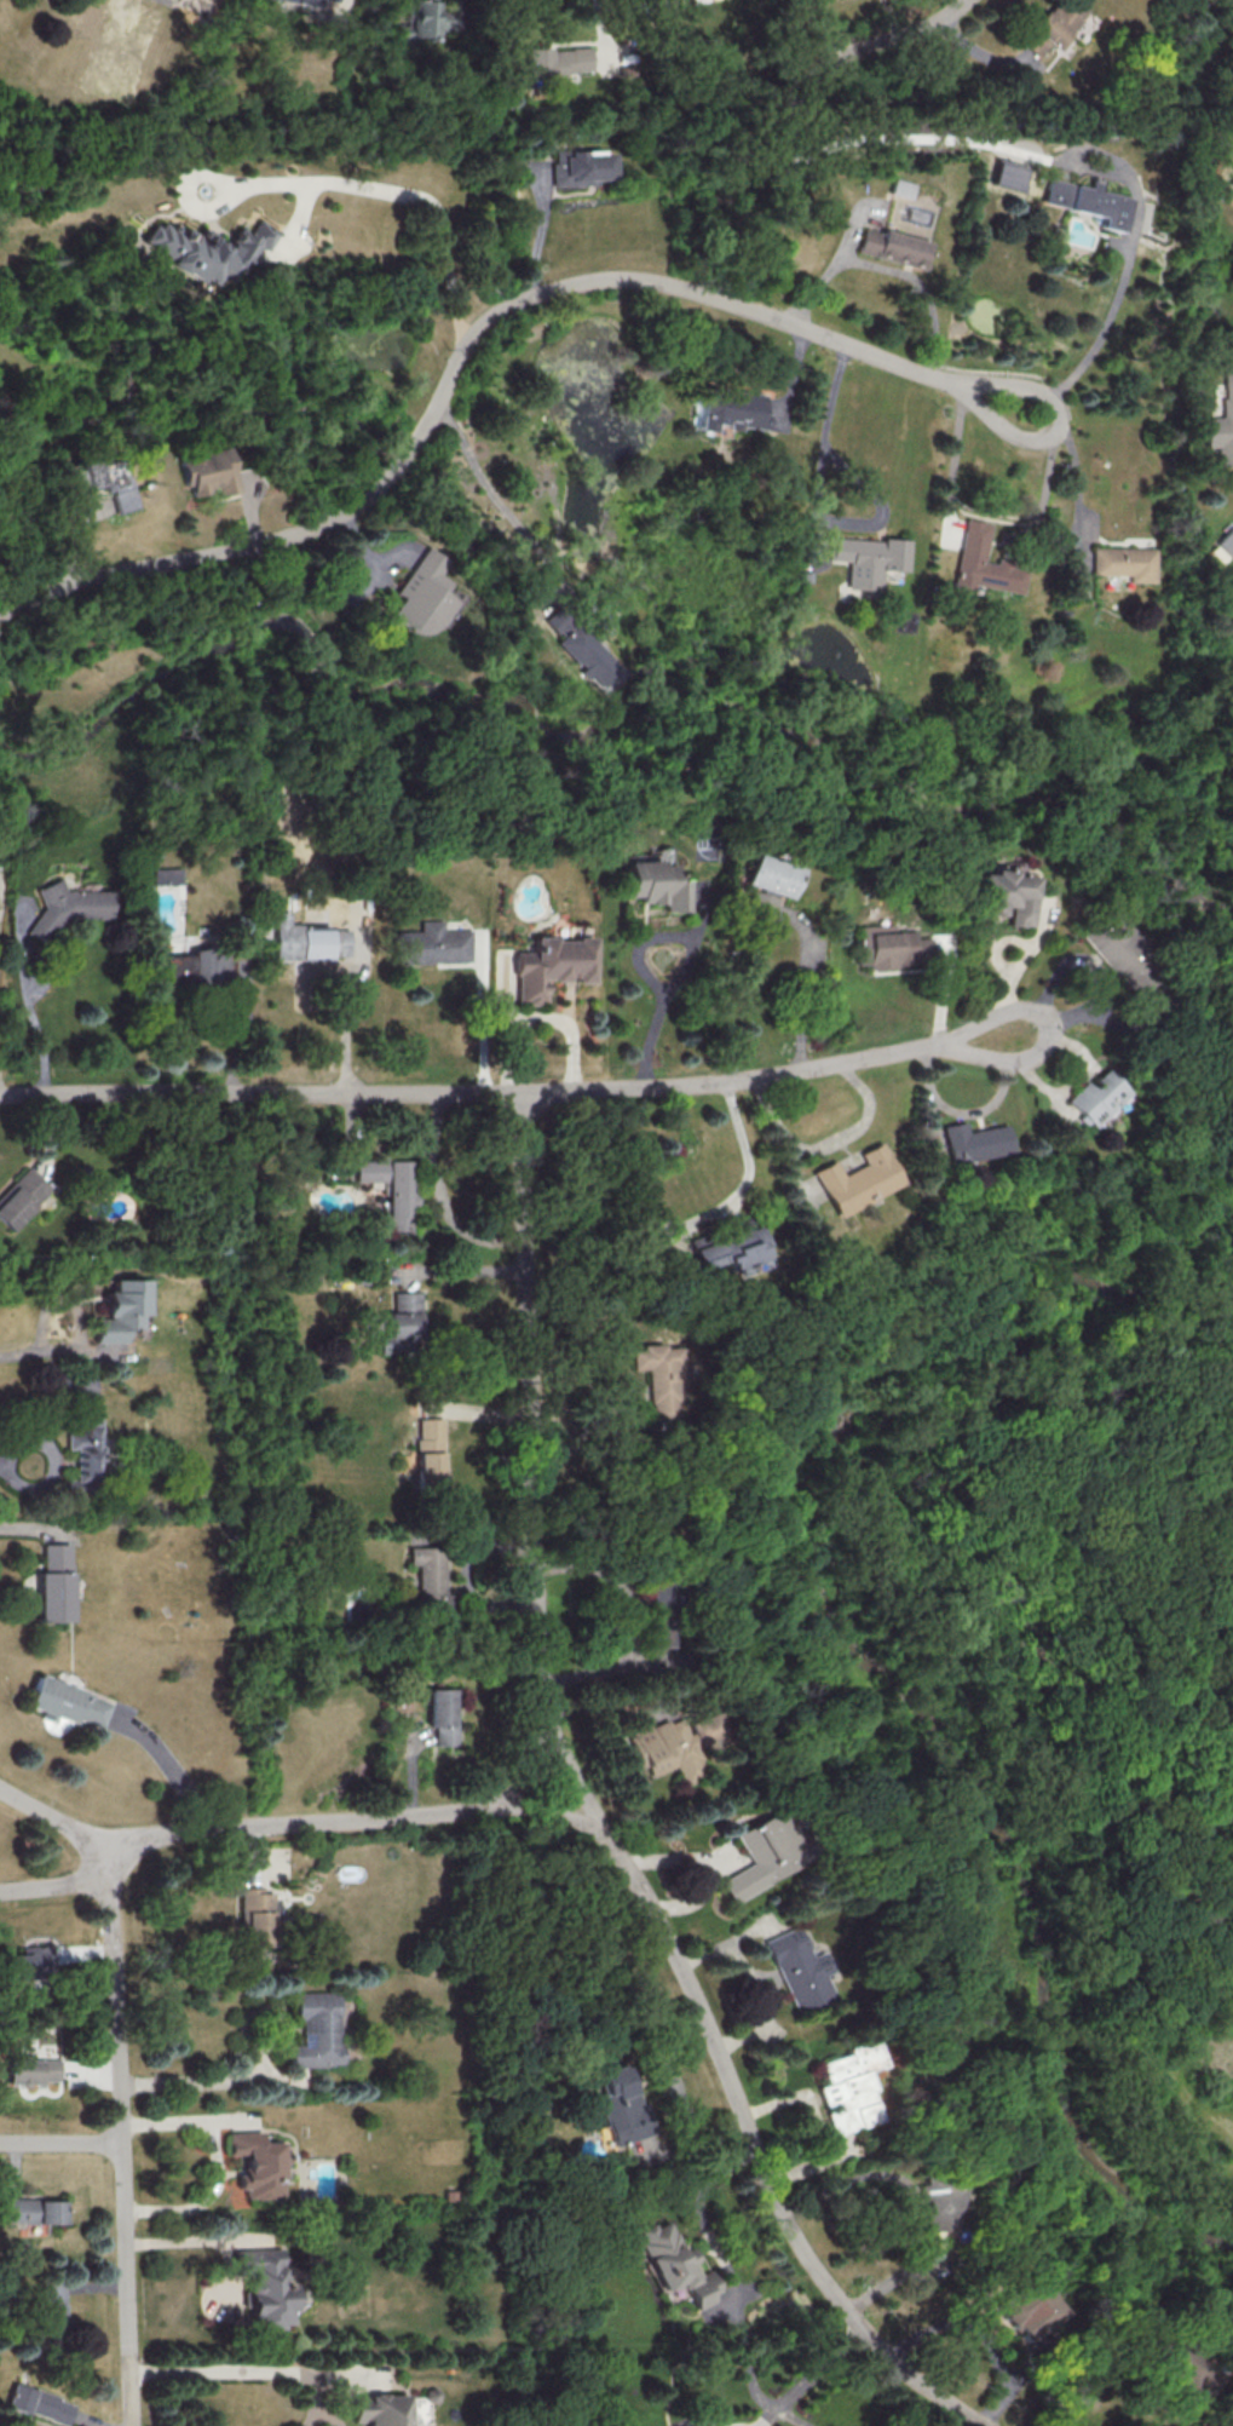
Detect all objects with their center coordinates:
road: (953, 10)
building: (1051, 25)
road: (601, 29)
building: (558, 62)
road: (892, 139)
building: (581, 166)
building: (1006, 174)
building: (901, 188)
road: (414, 192)
building: (1085, 201)
road: (542, 230)
building: (894, 247)
building: (204, 249)
road: (1118, 289)
road: (459, 364)
building: (743, 409)
road: (1071, 427)
building: (1221, 430)
building: (207, 471)
building: (100, 479)
road: (1078, 482)
road: (1045, 493)
road: (492, 494)
road: (816, 511)
building: (1225, 541)
building: (868, 558)
building: (984, 563)
building: (1124, 563)
road: (324, 588)
building: (419, 594)
building: (578, 645)
river: (679, 665)
building: (162, 874)
building: (765, 875)
building: (651, 884)
building: (693, 892)
building: (997, 895)
building: (755, 903)
building: (63, 907)
building: (309, 941)
building: (430, 944)
building: (888, 945)
building: (1113, 950)
road: (686, 960)
building: (207, 962)
building: (548, 965)
building: (171, 971)
road: (805, 987)
road: (345, 1014)
road: (483, 1016)
road: (535, 1017)
road: (35, 1022)
road: (1062, 1027)
road: (468, 1092)
road: (927, 1098)
building: (1097, 1098)
building: (975, 1142)
building: (858, 1179)
building: (390, 1189)
building: (21, 1197)
road: (442, 1198)
road: (691, 1226)
road: (972, 1242)
building: (732, 1248)
road: (461, 1271)
building: (119, 1310)
road: (74, 1311)
road: (16, 1350)
building: (657, 1378)
road: (531, 1408)
road: (34, 1433)
road: (598, 1444)
building: (81, 1451)
building: (427, 1451)
road: (27, 1530)
building: (427, 1575)
building: (52, 1583)
river: (832, 1634)
building: (65, 1702)
building: (440, 1714)
building: (670, 1743)
road: (525, 1760)
road: (589, 1803)
road: (453, 1810)
road: (557, 1812)
road: (52, 1816)
road: (321, 1821)
road: (177, 1832)
building: (760, 1856)
road: (53, 1885)
building: (254, 1916)
building: (30, 1961)
building: (799, 1970)
road: (757, 1981)
building: (316, 2029)
building: (30, 2070)
road: (194, 2081)
building: (847, 2087)
building: (621, 2104)
road: (185, 2120)
road: (121, 2132)
road: (61, 2142)
building: (257, 2165)
road: (767, 2181)
road: (910, 2195)
road: (203, 2200)
building: (934, 2202)
building: (33, 2211)
road: (191, 2236)
building: (674, 2264)
road: (724, 2270)
building: (266, 2287)
building: (51, 2296)
building: (1024, 2309)
road: (848, 2349)
road: (248, 2373)
road: (796, 2395)
building: (39, 2404)
building: (380, 2409)

